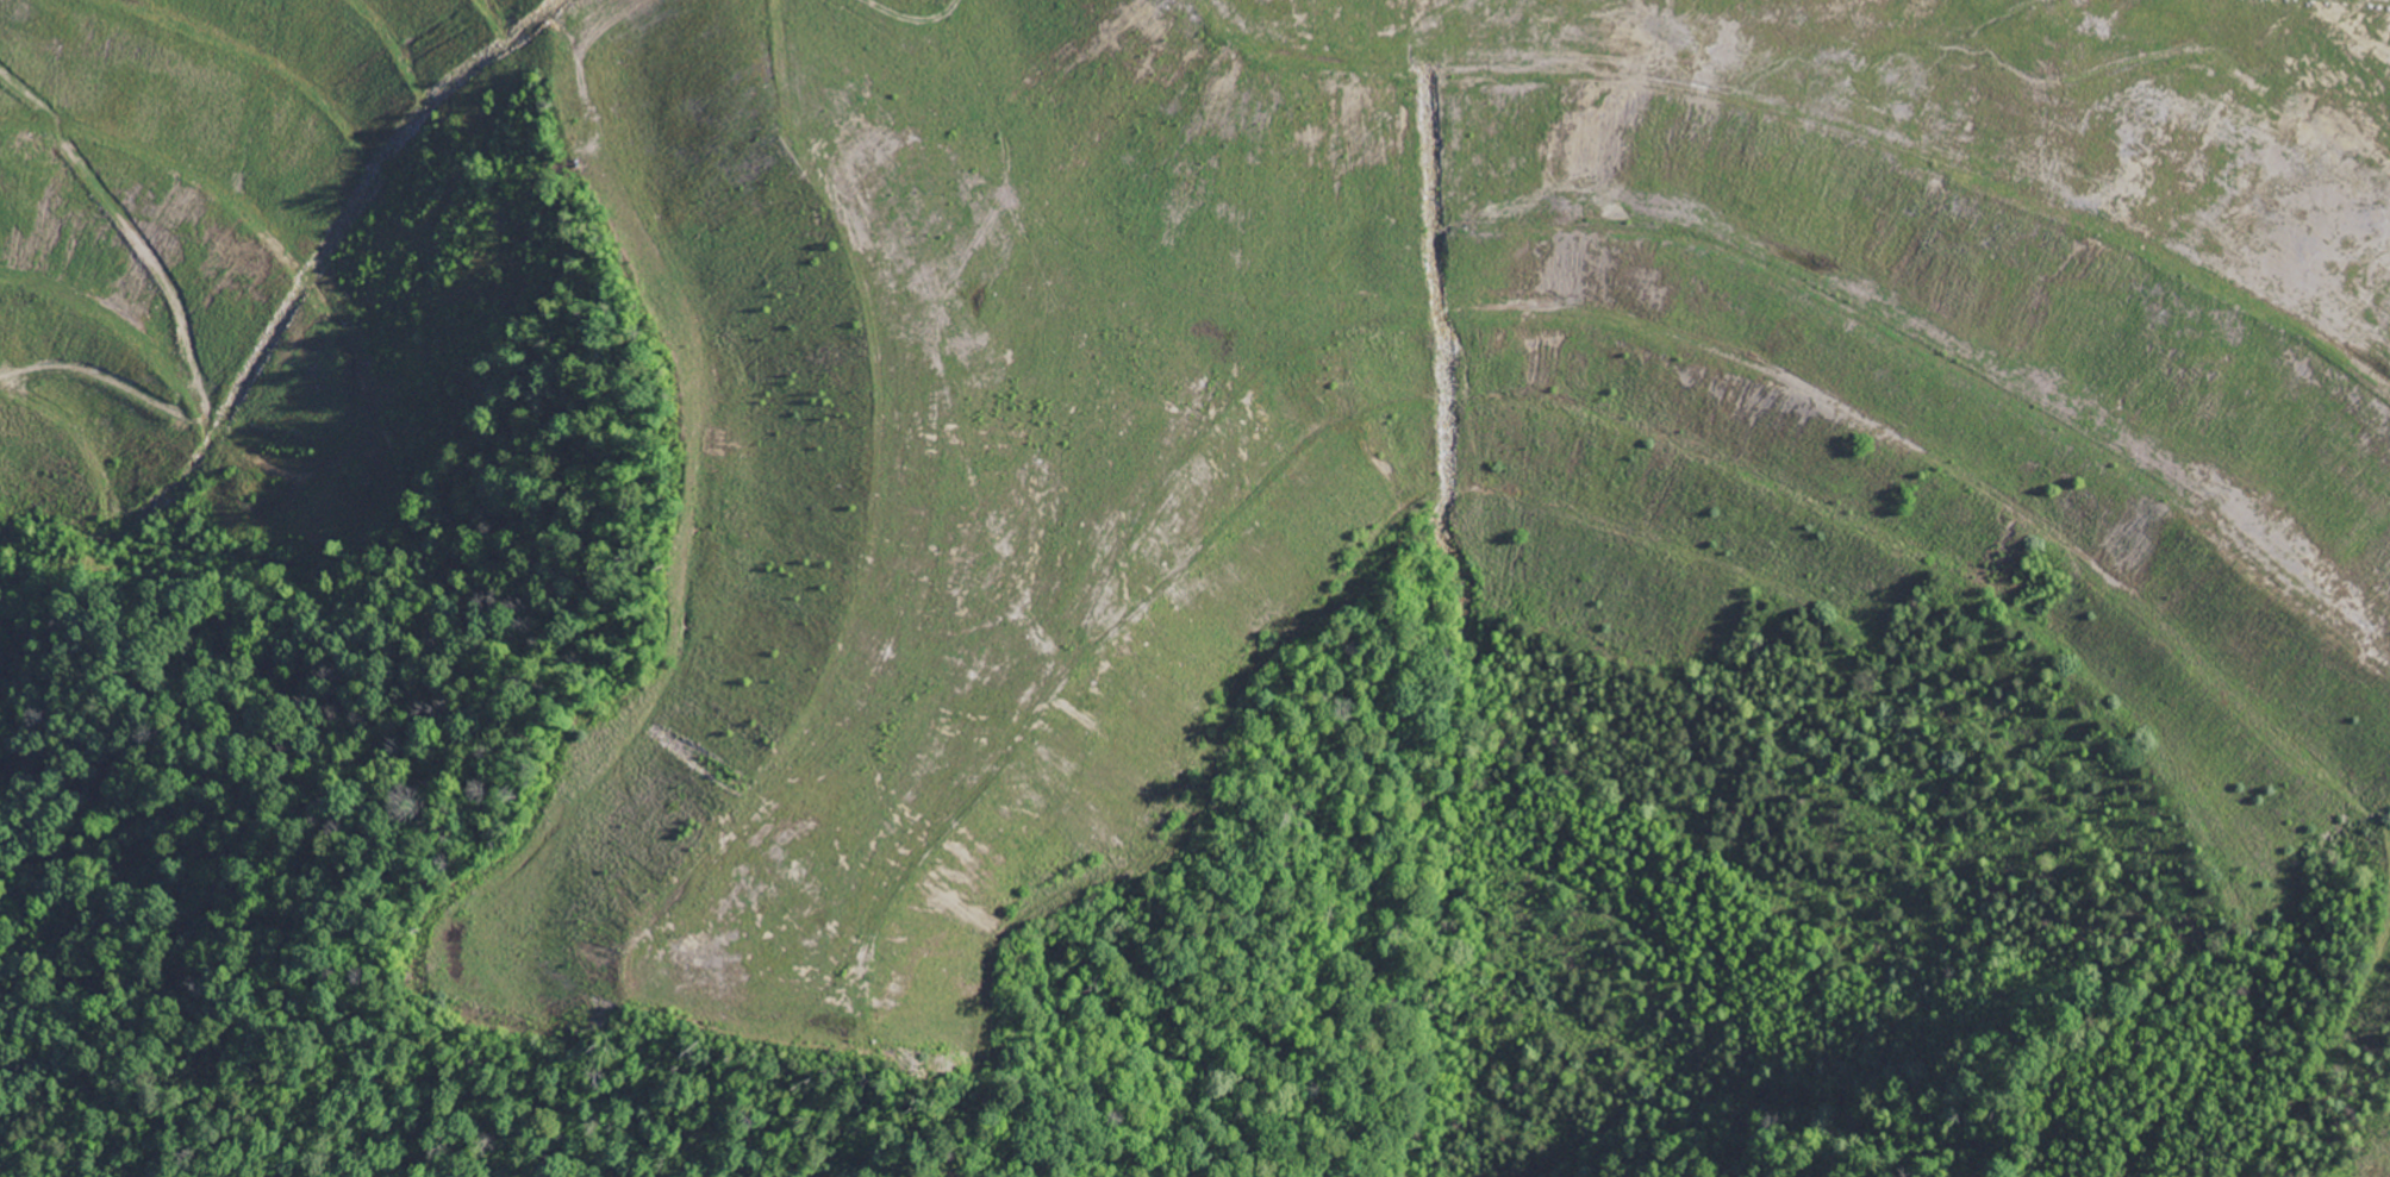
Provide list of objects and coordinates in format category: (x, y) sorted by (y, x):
quarry: (1269, 411)
quarry: (2384, 1160)

